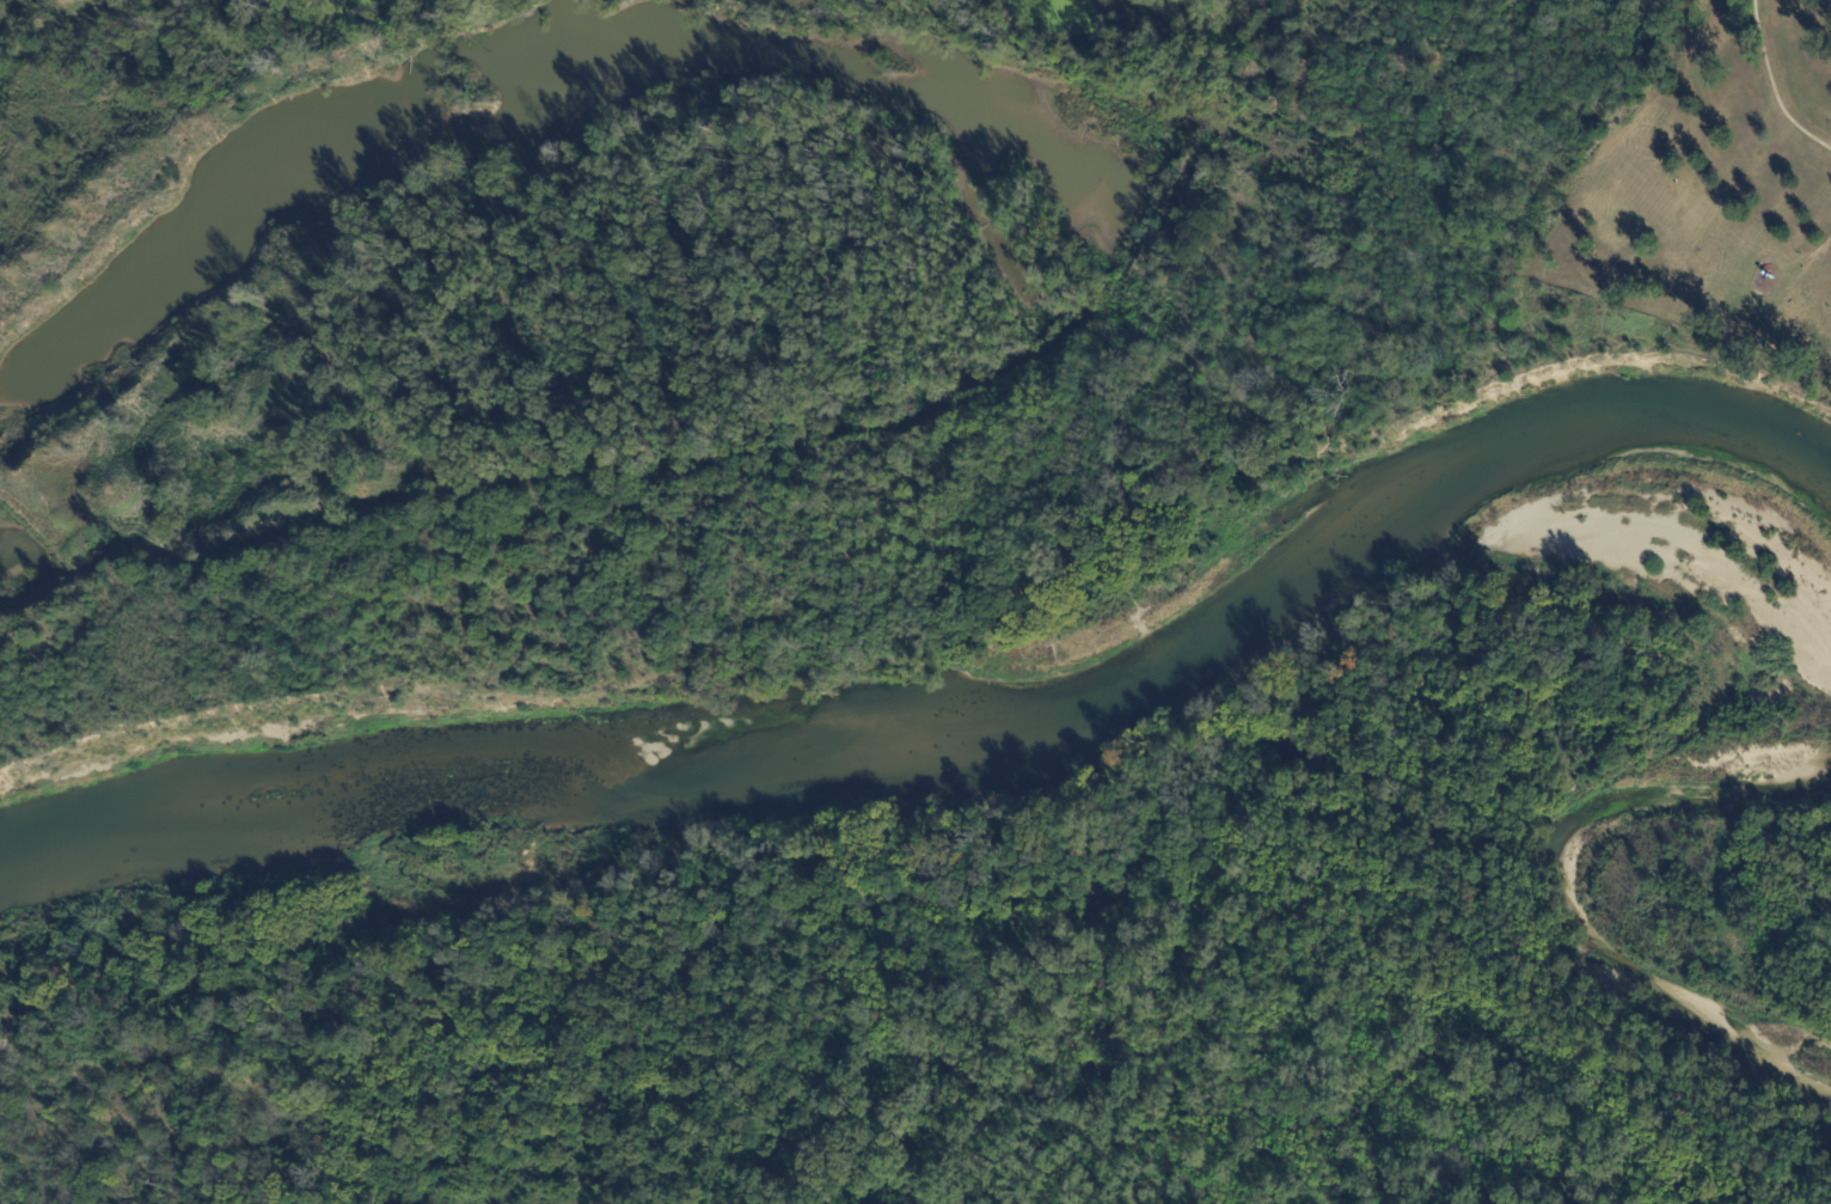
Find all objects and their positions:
park: (1715, 183)
road: (1777, 281)
river: (956, 722)

